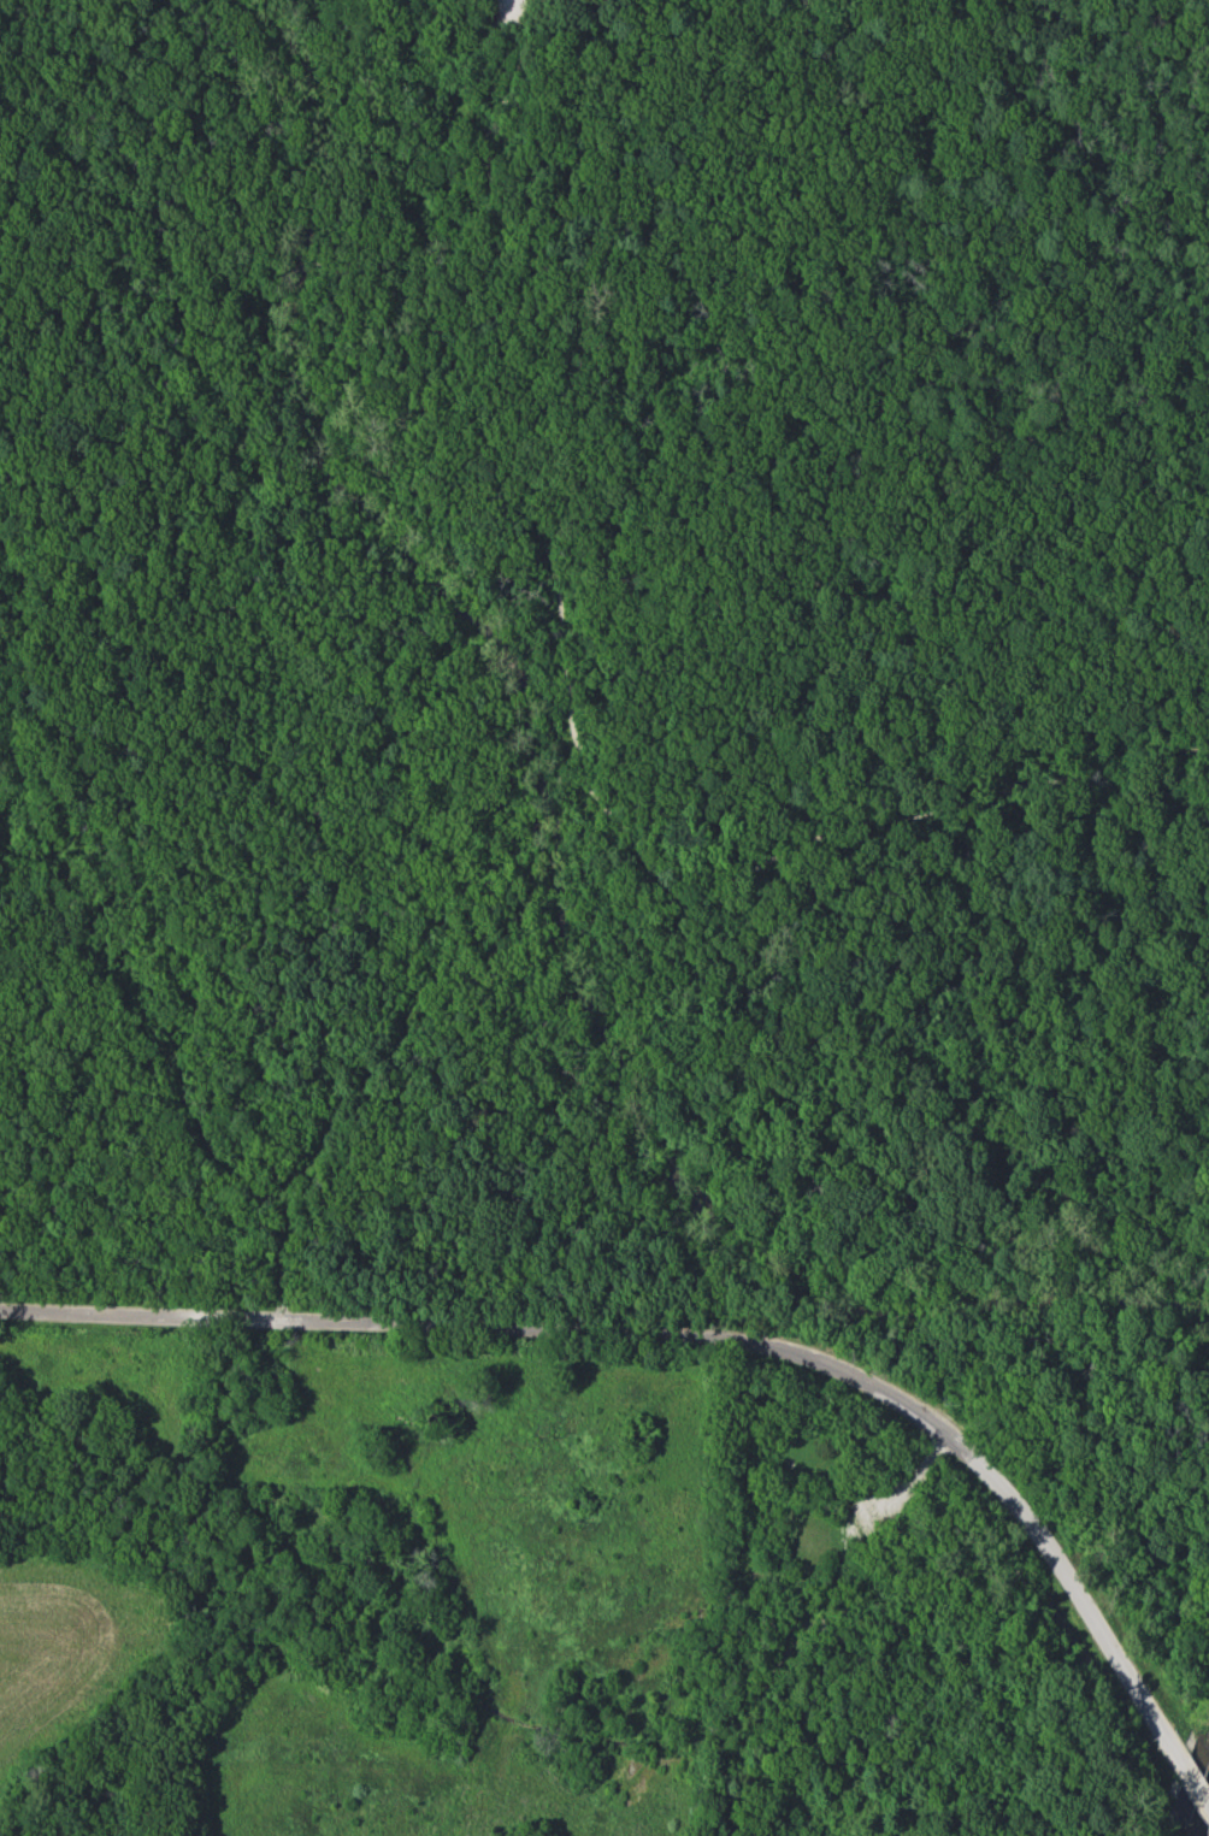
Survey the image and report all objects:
road: (485, 153)
road: (273, 243)
road: (738, 624)
road: (1157, 744)
road: (625, 833)
park: (604, 917)
road: (1173, 927)
road: (400, 1023)
road: (163, 1051)
road: (608, 1108)
road: (714, 1334)
road: (903, 1490)
parking lot: (863, 1507)

